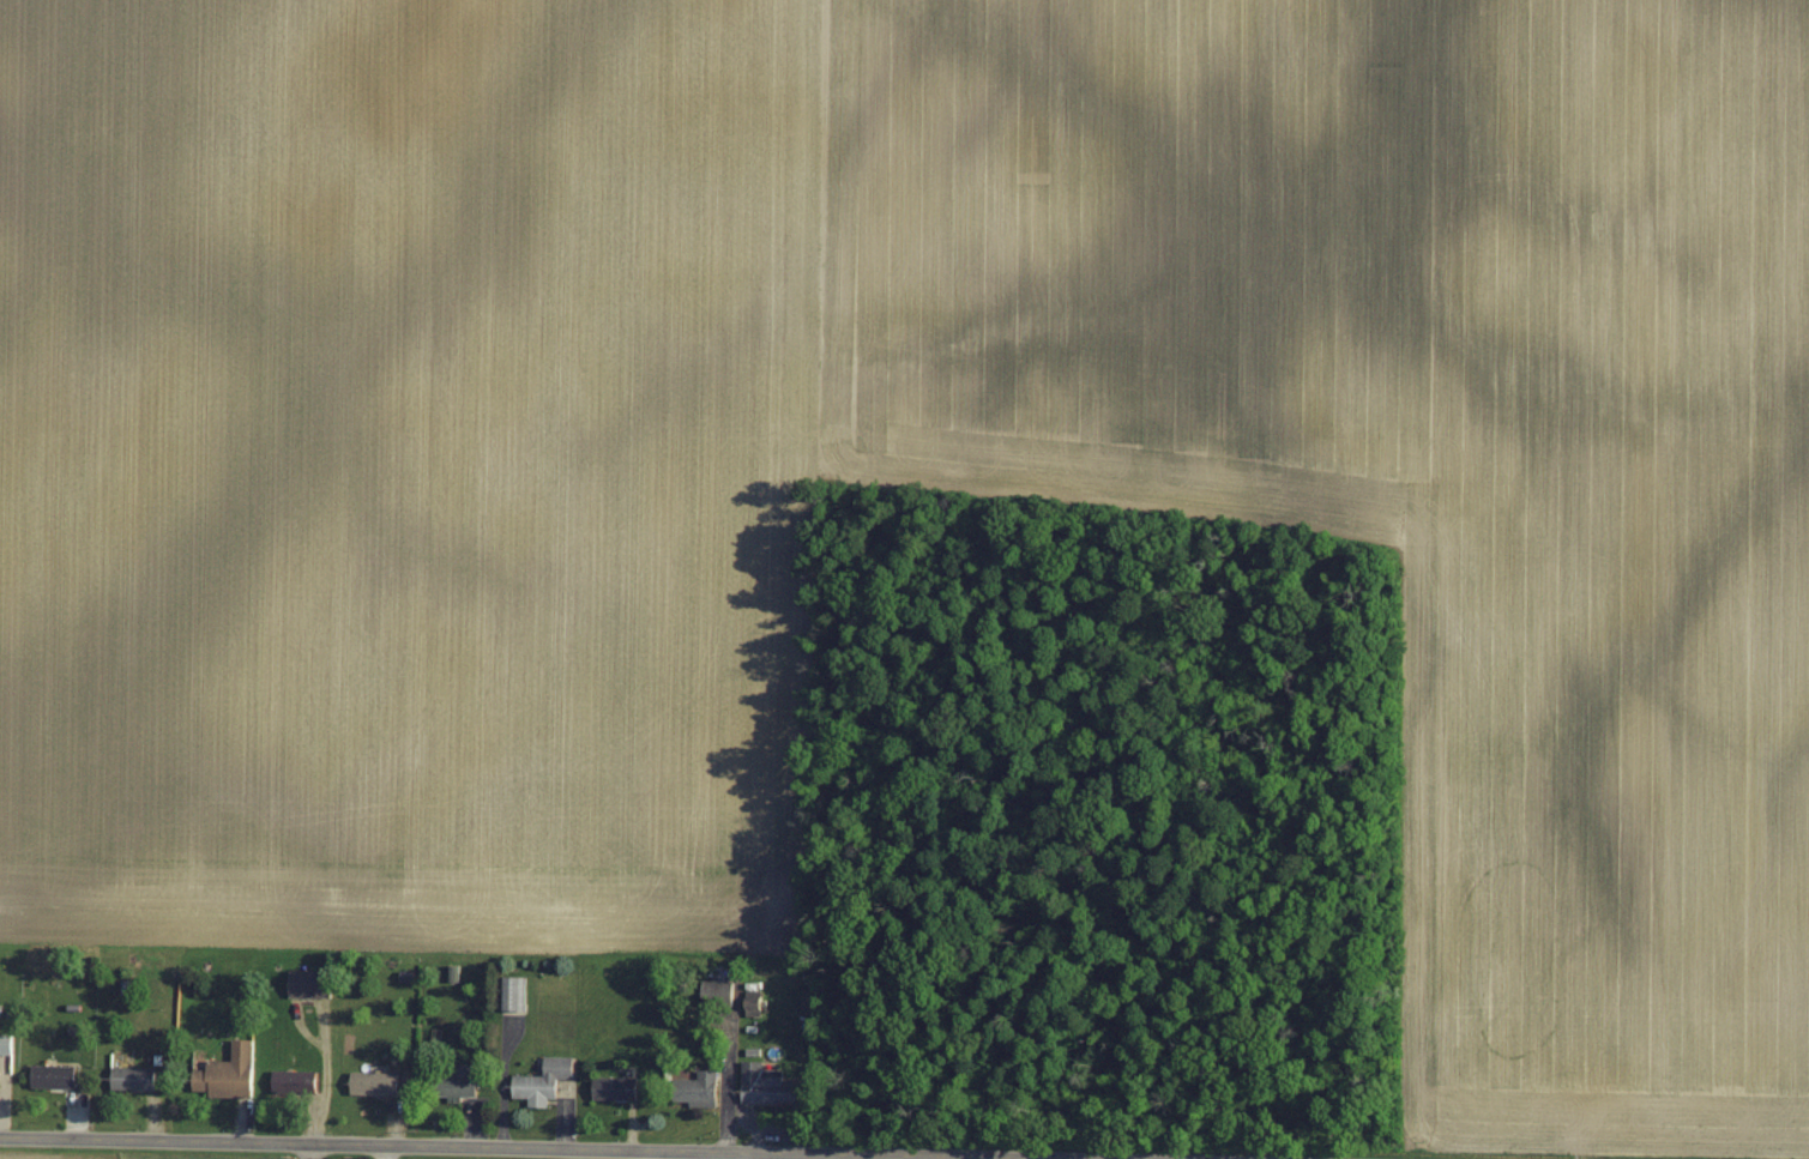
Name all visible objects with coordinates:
crop: (916, 454)
road: (726, 1079)
road: (319, 1085)
road: (755, 1121)
road: (544, 1152)

